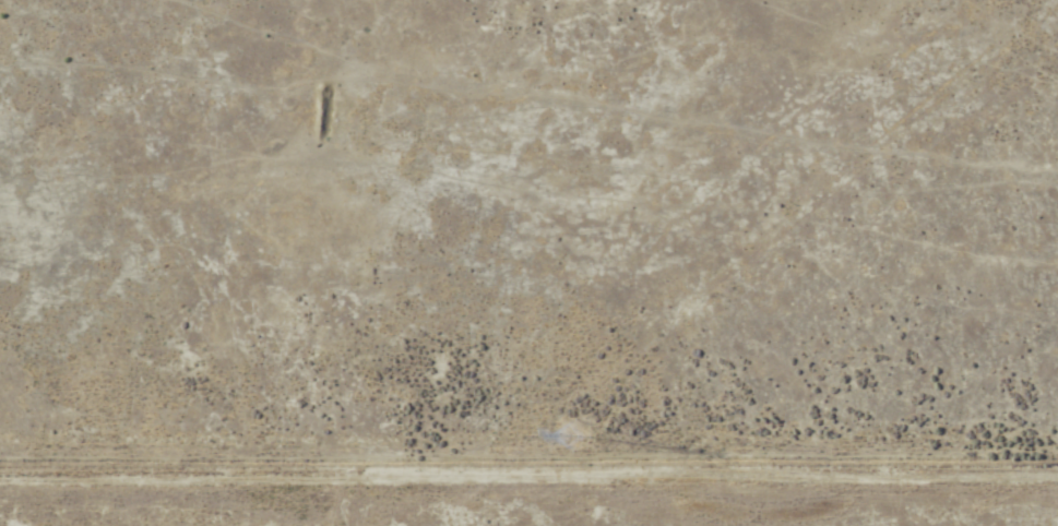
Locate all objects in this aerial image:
power tower: (591, 426)

